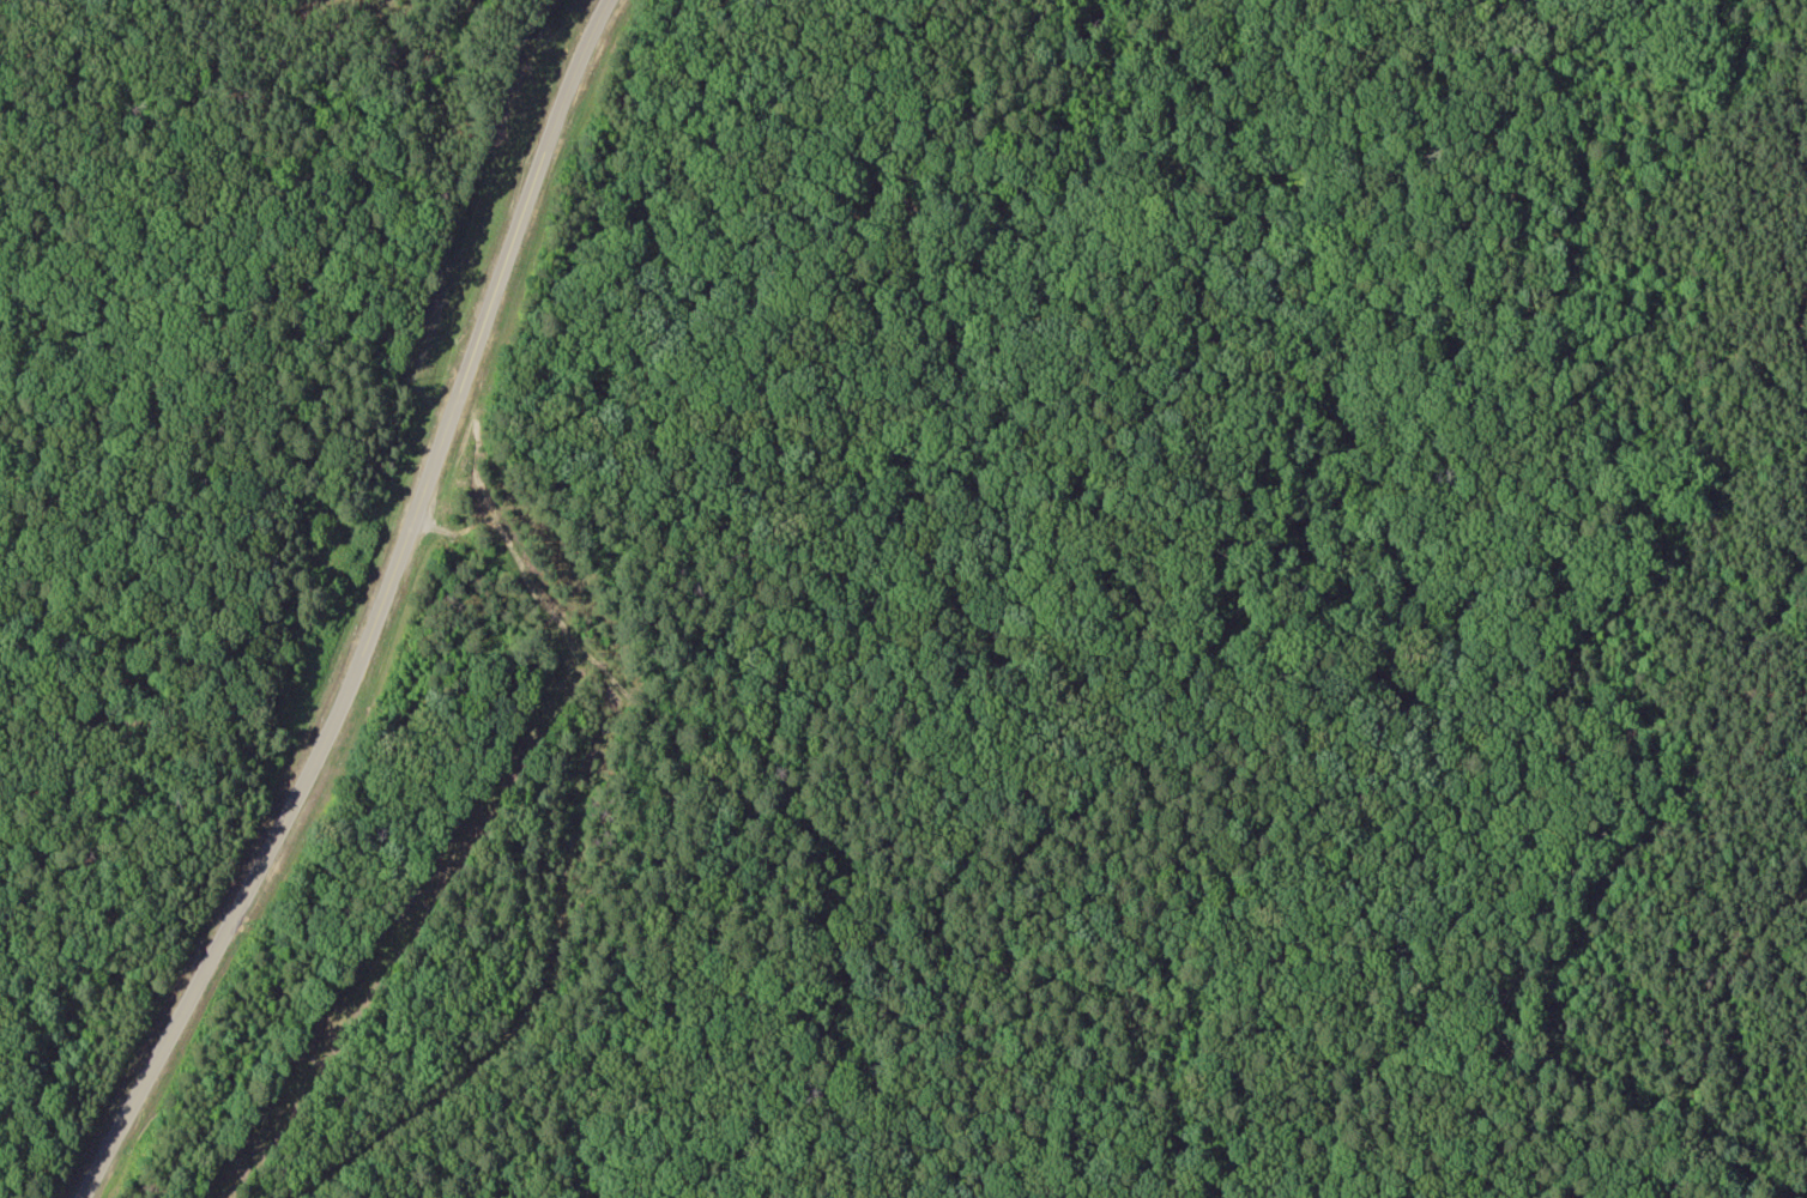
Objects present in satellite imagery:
road: (376, 612)

